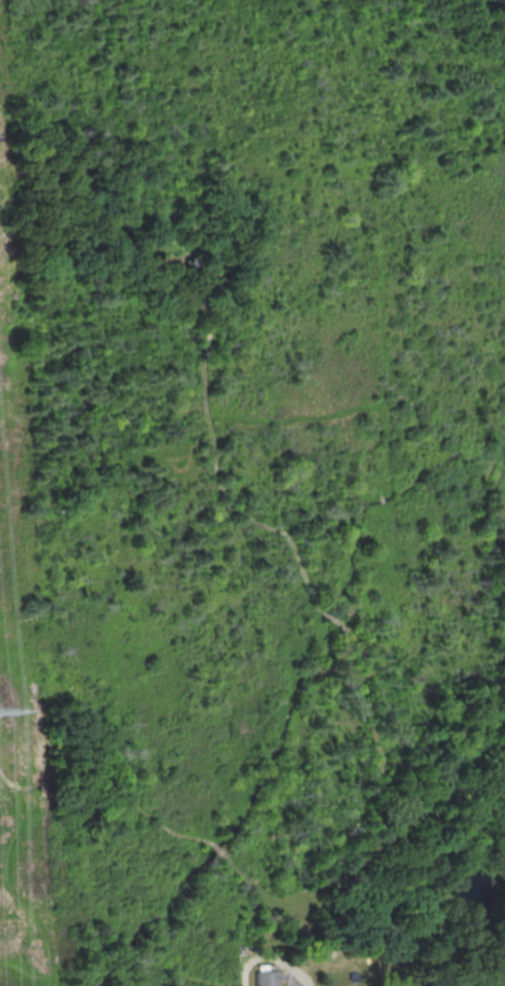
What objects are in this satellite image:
building: (267, 975)

